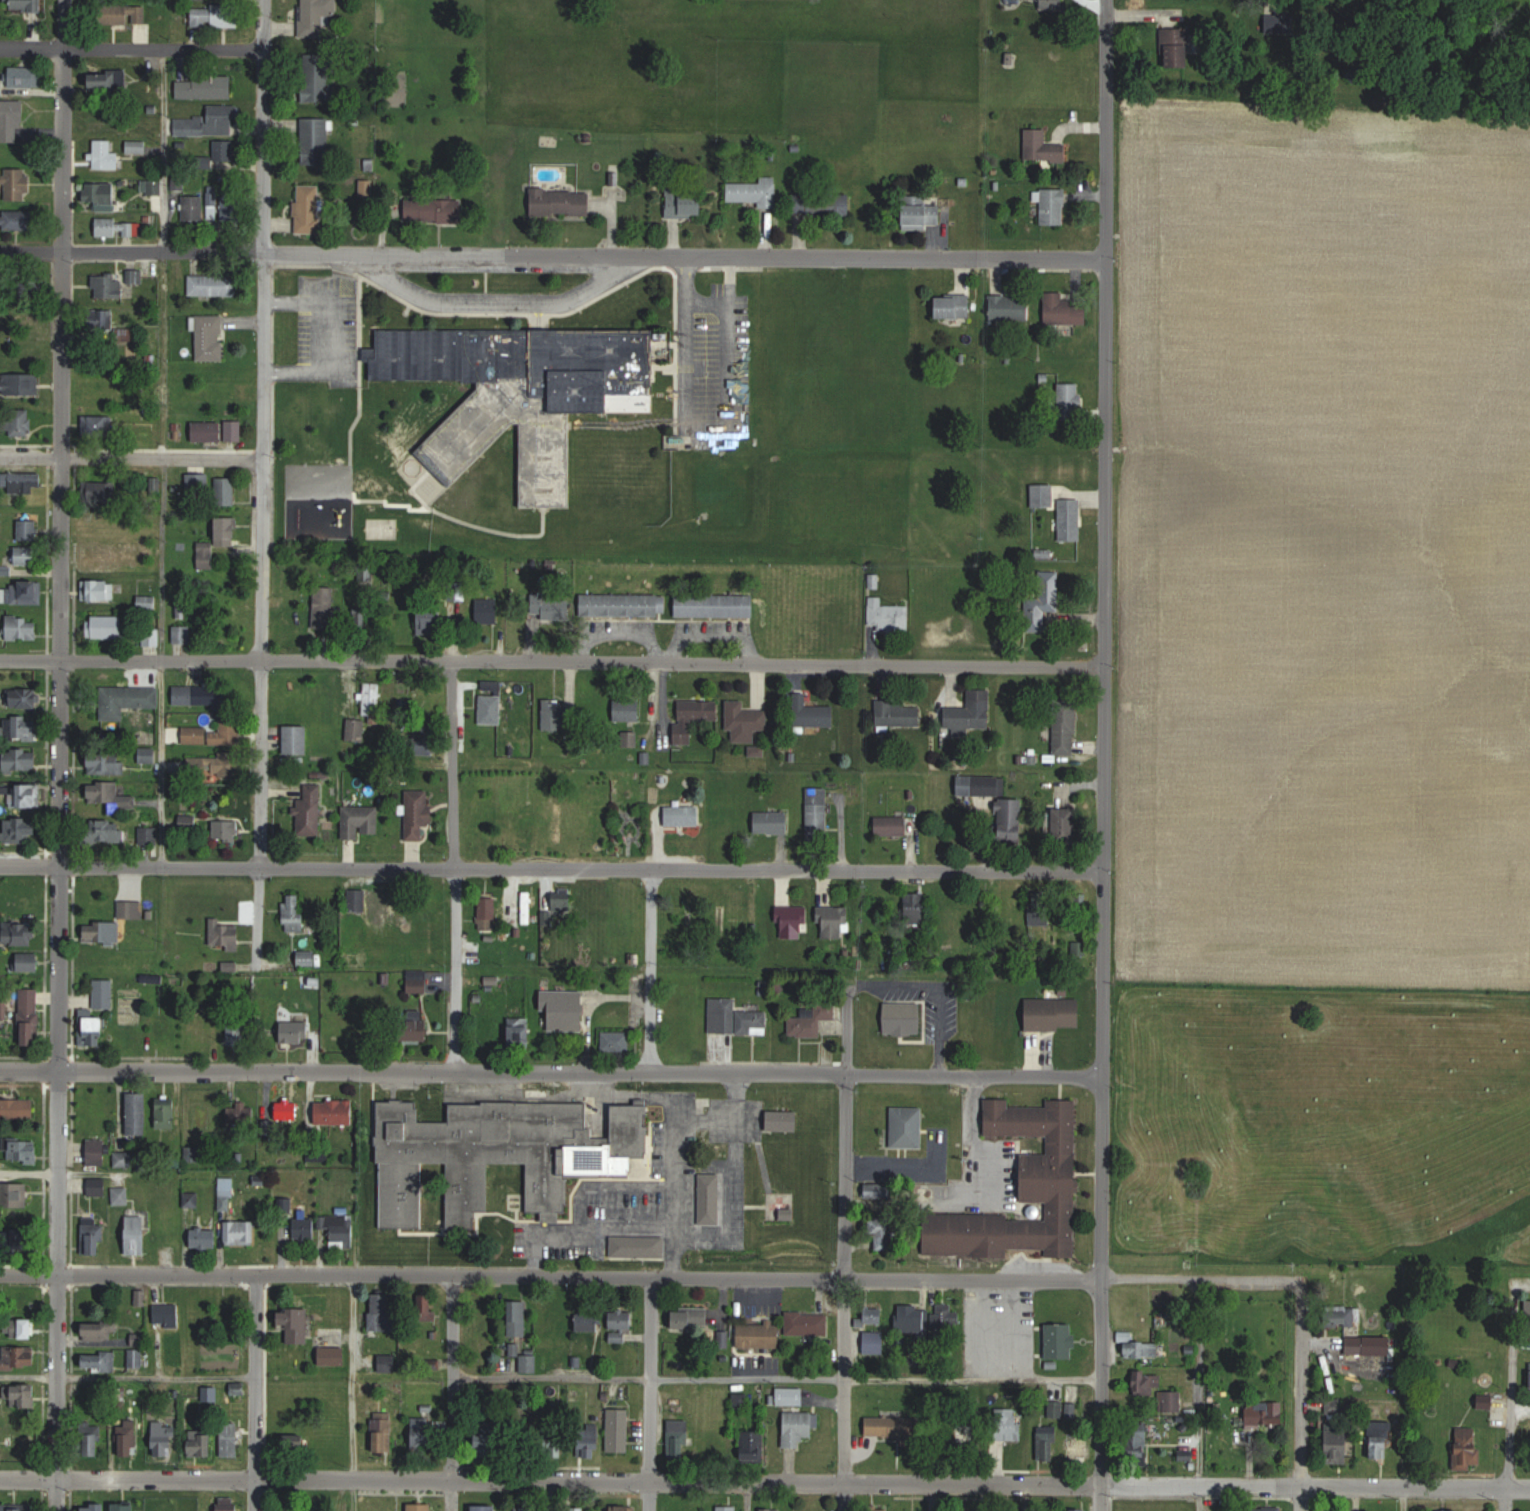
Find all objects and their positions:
building: (26, 5)
building: (132, 11)
building: (215, 15)
building: (316, 18)
road: (132, 46)
building: (1177, 48)
building: (27, 77)
building: (318, 77)
building: (109, 80)
building: (205, 87)
building: (220, 119)
building: (13, 121)
building: (315, 141)
building: (1042, 148)
building: (224, 151)
building: (106, 155)
building: (16, 183)
building: (178, 183)
building: (755, 191)
building: (101, 195)
building: (561, 201)
building: (686, 202)
building: (821, 203)
building: (1053, 206)
building: (222, 207)
building: (193, 209)
building: (309, 209)
building: (433, 210)
building: (924, 216)
building: (17, 219)
building: (115, 227)
road: (552, 252)
building: (213, 285)
building: (109, 286)
road: (706, 300)
road: (493, 303)
building: (953, 306)
building: (1010, 308)
building: (1064, 310)
road: (317, 337)
building: (210, 338)
building: (19, 382)
building: (522, 392)
building: (1070, 402)
building: (21, 425)
building: (207, 431)
building: (234, 431)
road: (707, 442)
road: (161, 456)
road: (131, 458)
building: (26, 483)
road: (263, 484)
building: (153, 485)
building: (225, 492)
building: (1042, 496)
building: (1070, 519)
building: (27, 529)
building: (218, 541)
building: (27, 555)
building: (102, 559)
building: (5, 569)
building: (99, 590)
building: (26, 591)
building: (624, 604)
building: (715, 605)
building: (1043, 605)
building: (146, 606)
building: (550, 607)
building: (325, 608)
building: (489, 610)
building: (360, 612)
building: (888, 616)
building: (430, 622)
building: (22, 626)
building: (110, 627)
building: (182, 634)
building: (151, 635)
road: (131, 660)
road: (683, 666)
building: (201, 695)
building: (24, 698)
building: (371, 698)
building: (125, 701)
building: (491, 702)
building: (627, 710)
building: (812, 712)
building: (971, 712)
building: (899, 714)
building: (555, 715)
building: (693, 718)
building: (744, 721)
building: (25, 727)
building: (1065, 727)
building: (357, 730)
building: (228, 732)
building: (195, 735)
building: (630, 738)
building: (296, 740)
road: (60, 755)
building: (147, 755)
road: (1103, 755)
building: (22, 760)
building: (107, 761)
building: (216, 765)
building: (978, 785)
building: (22, 795)
building: (112, 797)
building: (310, 811)
building: (418, 813)
building: (817, 813)
building: (682, 815)
building: (1010, 820)
building: (362, 822)
building: (772, 822)
building: (1064, 823)
building: (559, 824)
building: (892, 825)
building: (189, 826)
building: (21, 829)
building: (594, 829)
building: (227, 830)
building: (149, 839)
building: (107, 840)
road: (30, 863)
road: (580, 866)
road: (456, 869)
building: (21, 899)
building: (356, 900)
building: (562, 903)
building: (526, 908)
building: (914, 908)
building: (380, 909)
building: (131, 910)
building: (294, 913)
building: (487, 914)
building: (1040, 914)
building: (791, 921)
building: (833, 921)
building: (722, 926)
building: (20, 932)
building: (103, 932)
building: (224, 935)
building: (308, 959)
building: (29, 962)
road: (357, 968)
road: (652, 968)
building: (419, 982)
road: (938, 984)
building: (104, 1000)
building: (565, 1009)
building: (1055, 1014)
building: (31, 1017)
building: (735, 1018)
building: (904, 1018)
building: (812, 1019)
building: (681, 1023)
building: (416, 1028)
building: (93, 1030)
building: (522, 1031)
building: (295, 1033)
building: (235, 1035)
building: (616, 1042)
road: (315, 1052)
road: (551, 1072)
road: (735, 1098)
building: (17, 1108)
building: (287, 1111)
building: (166, 1112)
building: (337, 1112)
building: (138, 1113)
building: (238, 1114)
building: (98, 1115)
building: (783, 1120)
building: (908, 1127)
building: (521, 1142)
road: (967, 1148)
building: (22, 1149)
building: (98, 1151)
road: (75, 1172)
road: (734, 1181)
building: (98, 1185)
road: (674, 1187)
building: (1023, 1190)
building: (14, 1195)
building: (121, 1195)
road: (576, 1209)
building: (306, 1228)
building: (339, 1228)
building: (241, 1232)
road: (845, 1233)
building: (885, 1233)
building: (137, 1234)
building: (19, 1235)
building: (93, 1236)
building: (204, 1238)
road: (29, 1274)
road: (679, 1279)
building: (140, 1297)
building: (27, 1304)
building: (428, 1307)
building: (1528, 1308)
building: (383, 1312)
building: (873, 1314)
building: (166, 1315)
building: (554, 1316)
building: (1349, 1316)
building: (484, 1318)
building: (519, 1318)
building: (946, 1318)
building: (689, 1319)
building: (621, 1320)
building: (913, 1320)
building: (588, 1322)
building: (808, 1323)
building: (299, 1326)
building: (23, 1328)
building: (101, 1329)
road: (983, 1329)
road: (1014, 1329)
building: (760, 1335)
building: (1059, 1341)
building: (1356, 1348)
building: (1141, 1349)
building: (333, 1356)
building: (20, 1357)
building: (136, 1358)
building: (99, 1361)
building: (388, 1362)
building: (529, 1364)
road: (128, 1378)
road: (649, 1380)
road: (775, 1380)
building: (1157, 1391)
road: (256, 1393)
road: (353, 1393)
road: (449, 1393)
road: (1197, 1394)
building: (26, 1395)
road: (1301, 1395)
building: (790, 1396)
building: (741, 1401)
building: (1485, 1401)
building: (1061, 1410)
building: (1265, 1414)
road: (1508, 1418)
building: (1008, 1424)
building: (893, 1426)
building: (799, 1427)
building: (429, 1430)
building: (618, 1430)
building: (383, 1432)
building: (968, 1432)
building: (129, 1438)
building: (164, 1438)
building: (679, 1439)
building: (1381, 1439)
building: (94, 1440)
building: (230, 1440)
building: (298, 1440)
building: (490, 1440)
building: (201, 1442)
building: (1140, 1442)
building: (25, 1444)
building: (1049, 1444)
building: (591, 1446)
building: (753, 1446)
building: (1337, 1446)
building: (1468, 1447)
building: (1080, 1450)
road: (27, 1475)
road: (792, 1483)
road: (550, 1495)
road: (649, 1496)
road: (747, 1497)
road: (845, 1497)
road: (1402, 1499)
building: (227, 1504)
building: (162, 1506)
building: (95, 1507)
building: (125, 1507)
building: (421, 1507)
building: (486, 1508)
building: (622, 1508)
building: (725, 1508)
building: (1272, 1508)
building: (20, 1509)
building: (527, 1509)
building: (773, 1509)
building: (584, 1510)
building: (879, 1510)
building: (1078, 1510)
building: (1450, 1510)

